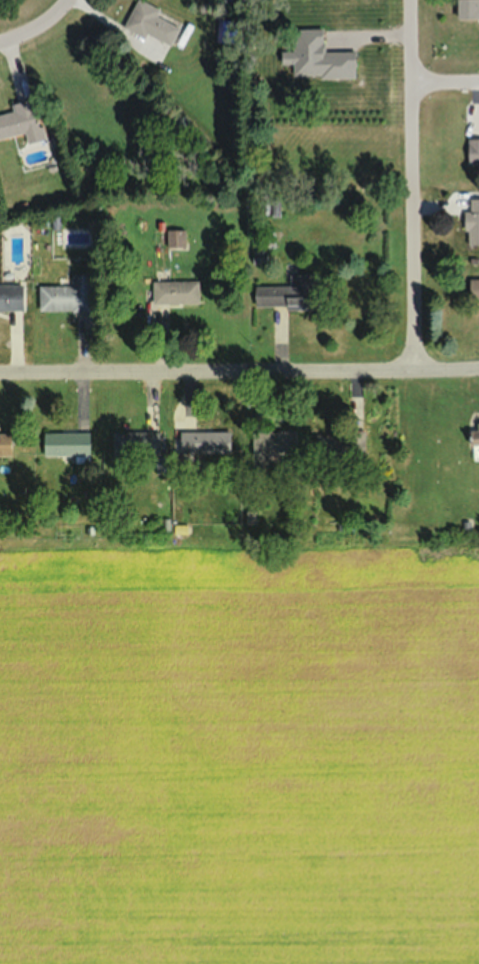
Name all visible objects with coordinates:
building: (468, 8)
building: (151, 22)
road: (39, 31)
road: (443, 89)
building: (18, 120)
building: (473, 150)
road: (408, 187)
building: (473, 220)
building: (176, 237)
building: (474, 288)
building: (176, 291)
building: (69, 294)
building: (283, 294)
building: (11, 297)
road: (239, 376)
building: (205, 441)
building: (275, 441)
building: (475, 441)
building: (5, 442)
building: (137, 442)
building: (340, 442)
building: (67, 443)
crop: (240, 755)

